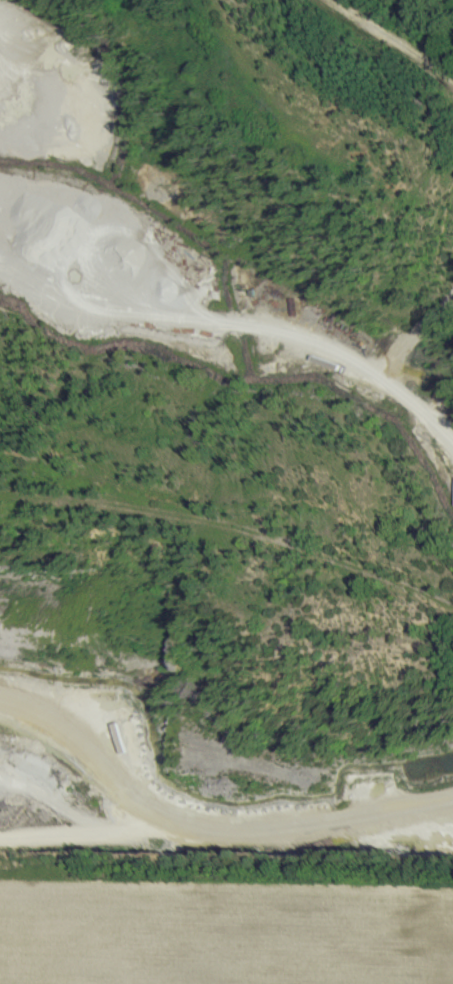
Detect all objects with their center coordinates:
quarry: (226, 439)

